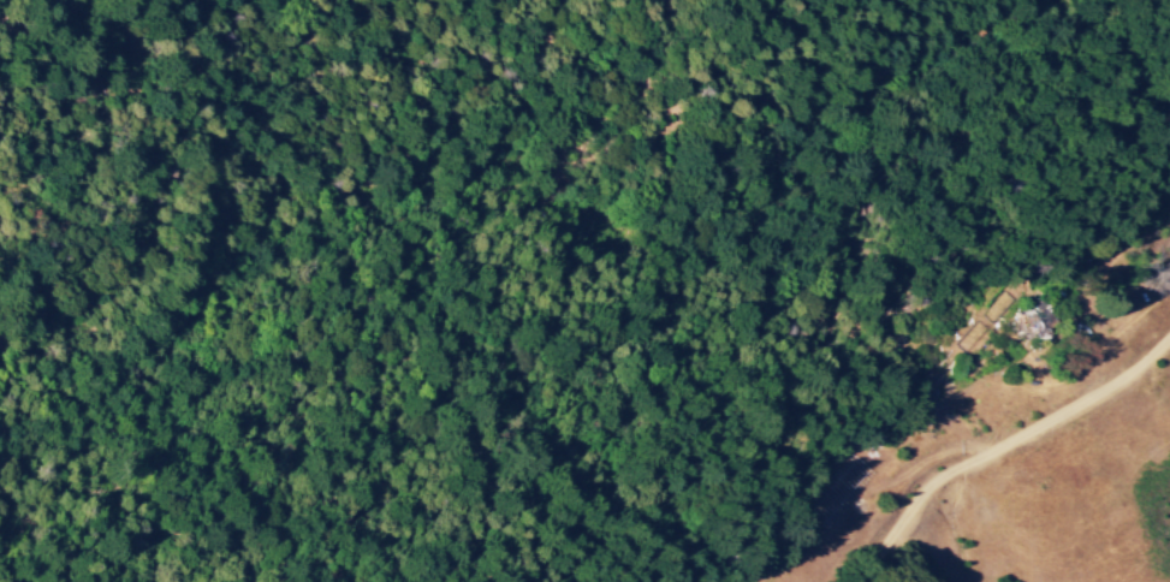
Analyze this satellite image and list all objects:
road: (1150, 415)
road: (1004, 452)

